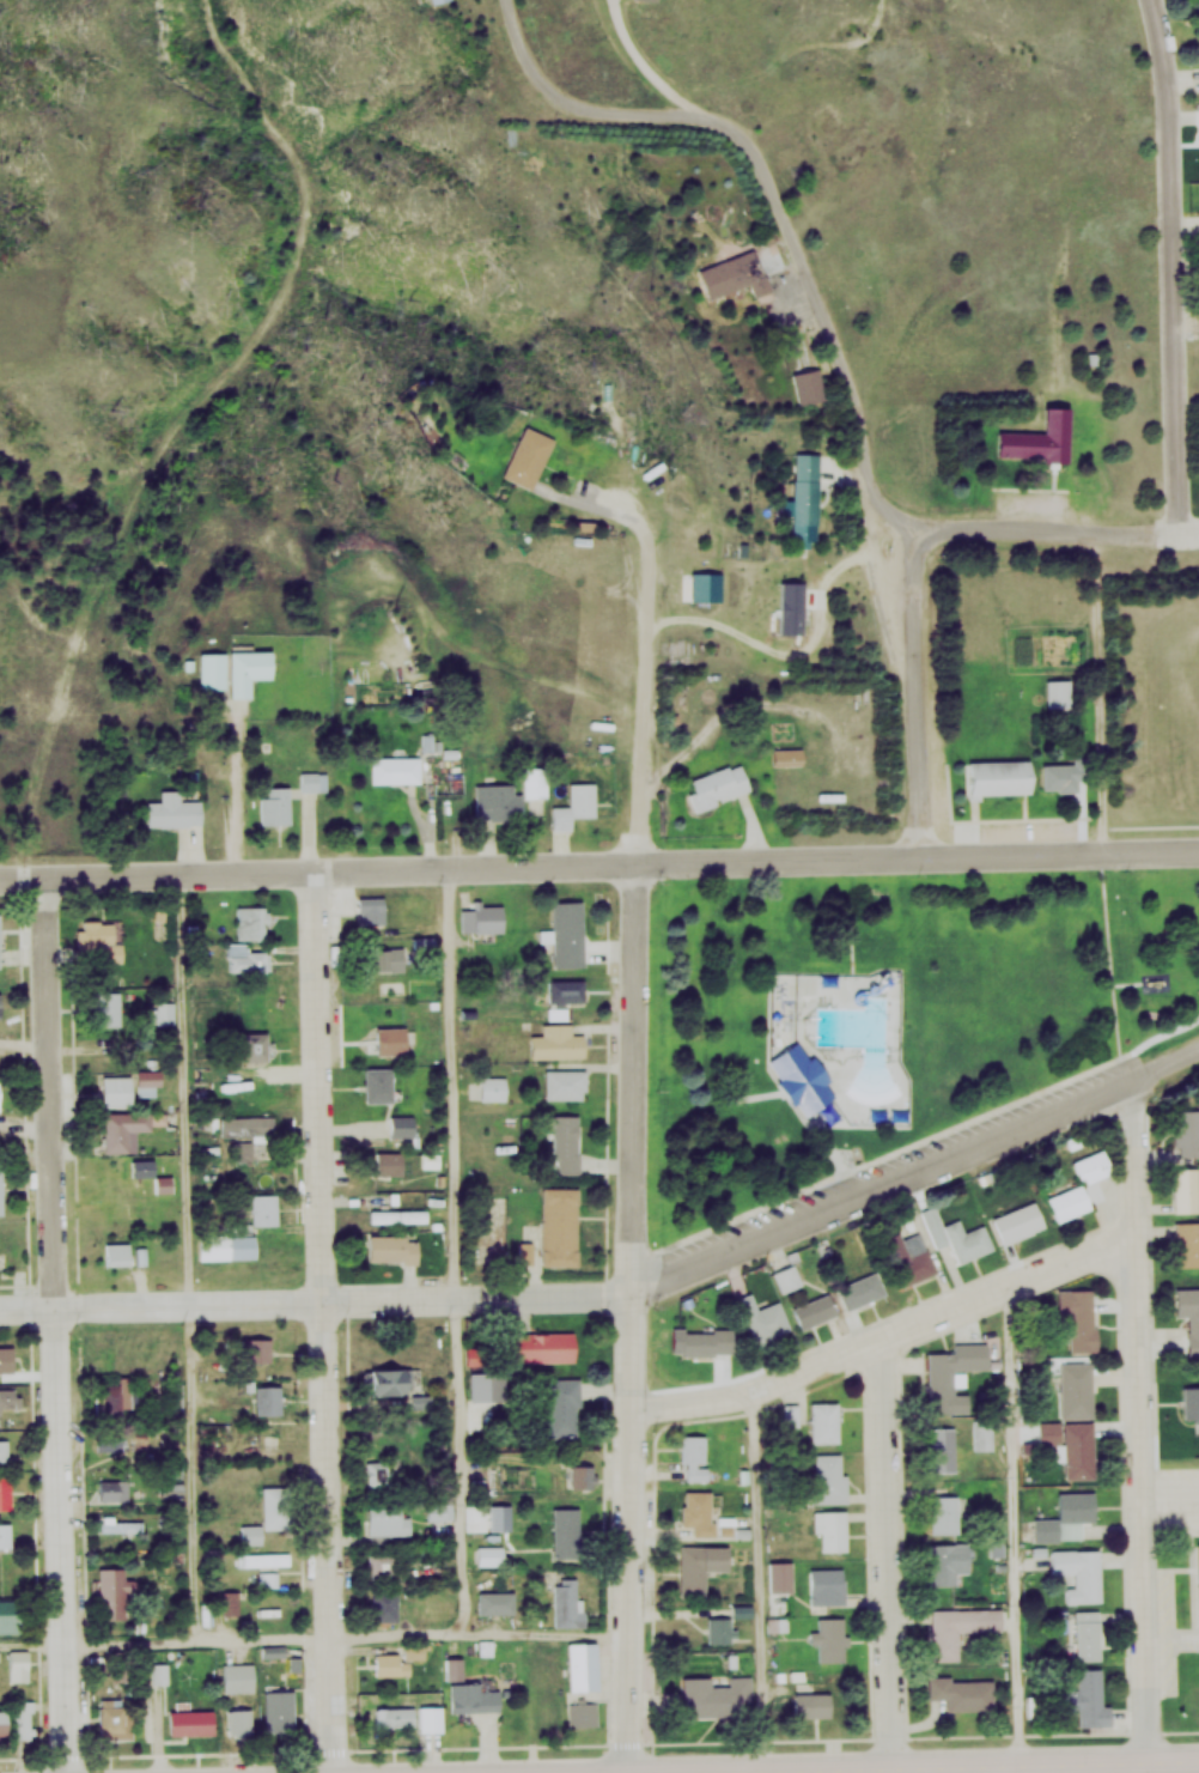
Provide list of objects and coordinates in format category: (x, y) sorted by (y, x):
building: (431, 1)
road: (774, 199)
building: (743, 268)
road: (1167, 268)
building: (1034, 432)
building: (524, 456)
building: (805, 488)
road: (608, 506)
road: (1058, 538)
building: (244, 669)
building: (207, 670)
building: (1057, 690)
road: (921, 694)
road: (1093, 696)
building: (785, 757)
building: (392, 769)
building: (1058, 772)
building: (996, 775)
building: (311, 781)
building: (716, 785)
building: (506, 793)
road: (235, 796)
building: (573, 801)
building: (275, 804)
building: (171, 810)
road: (599, 866)
building: (369, 905)
building: (480, 916)
building: (250, 923)
building: (566, 934)
building: (0, 940)
building: (99, 940)
building: (384, 955)
building: (245, 959)
building: (565, 992)
building: (108, 1008)
building: (165, 1013)
park: (891, 1020)
building: (388, 1040)
building: (555, 1043)
building: (252, 1046)
building: (377, 1077)
building: (799, 1079)
building: (150, 1082)
building: (564, 1083)
building: (492, 1088)
building: (114, 1091)
building: (4, 1092)
building: (247, 1124)
building: (401, 1124)
building: (128, 1128)
building: (1187, 1131)
road: (943, 1140)
building: (567, 1144)
building: (244, 1150)
road: (641, 1161)
building: (390, 1162)
road: (919, 1172)
building: (1078, 1186)
building: (4, 1188)
building: (1187, 1190)
building: (397, 1214)
building: (1016, 1224)
building: (558, 1226)
building: (242, 1232)
building: (956, 1235)
building: (1187, 1244)
building: (391, 1247)
road: (459, 1251)
building: (117, 1252)
road: (190, 1257)
building: (909, 1257)
building: (787, 1276)
building: (862, 1289)
road: (319, 1301)
building: (814, 1310)
building: (762, 1316)
building: (1188, 1316)
building: (1078, 1317)
road: (324, 1322)
road: (61, 1324)
road: (890, 1334)
building: (696, 1342)
building: (542, 1346)
building: (256, 1347)
building: (5, 1358)
building: (952, 1371)
building: (388, 1379)
building: (488, 1383)
building: (1075, 1389)
building: (124, 1392)
building: (179, 1395)
building: (10, 1397)
building: (267, 1397)
building: (1191, 1401)
building: (562, 1405)
building: (792, 1413)
road: (1142, 1420)
building: (824, 1421)
building: (985, 1433)
building: (124, 1441)
building: (1071, 1444)
building: (943, 1447)
building: (5, 1449)
building: (694, 1456)
building: (385, 1471)
building: (580, 1474)
building: (829, 1476)
building: (111, 1487)
building: (171, 1487)
building: (6, 1490)
road: (1170, 1500)
building: (434, 1508)
building: (696, 1512)
building: (944, 1512)
building: (1066, 1516)
building: (385, 1519)
building: (122, 1524)
road: (1011, 1526)
building: (832, 1529)
building: (566, 1530)
building: (251, 1532)
building: (6, 1534)
road: (888, 1552)
building: (489, 1554)
building: (264, 1558)
building: (381, 1561)
building: (947, 1561)
building: (699, 1565)
building: (1079, 1572)
building: (780, 1573)
building: (1197, 1573)
road: (762, 1580)
building: (828, 1584)
building: (112, 1591)
building: (232, 1598)
building: (495, 1599)
building: (568, 1601)
building: (383, 1603)
building: (8, 1613)
building: (960, 1626)
building: (720, 1627)
building: (1088, 1632)
road: (316, 1637)
building: (830, 1637)
building: (389, 1663)
building: (580, 1663)
building: (18, 1665)
building: (162, 1672)
building: (238, 1675)
building: (962, 1690)
building: (716, 1694)
building: (473, 1695)
building: (1091, 1698)
building: (811, 1702)
building: (279, 1710)
building: (544, 1710)
building: (586, 1712)
building: (394, 1716)
building: (110, 1717)
building: (428, 1718)
building: (25, 1719)
building: (239, 1720)
building: (190, 1722)
road: (913, 1766)

